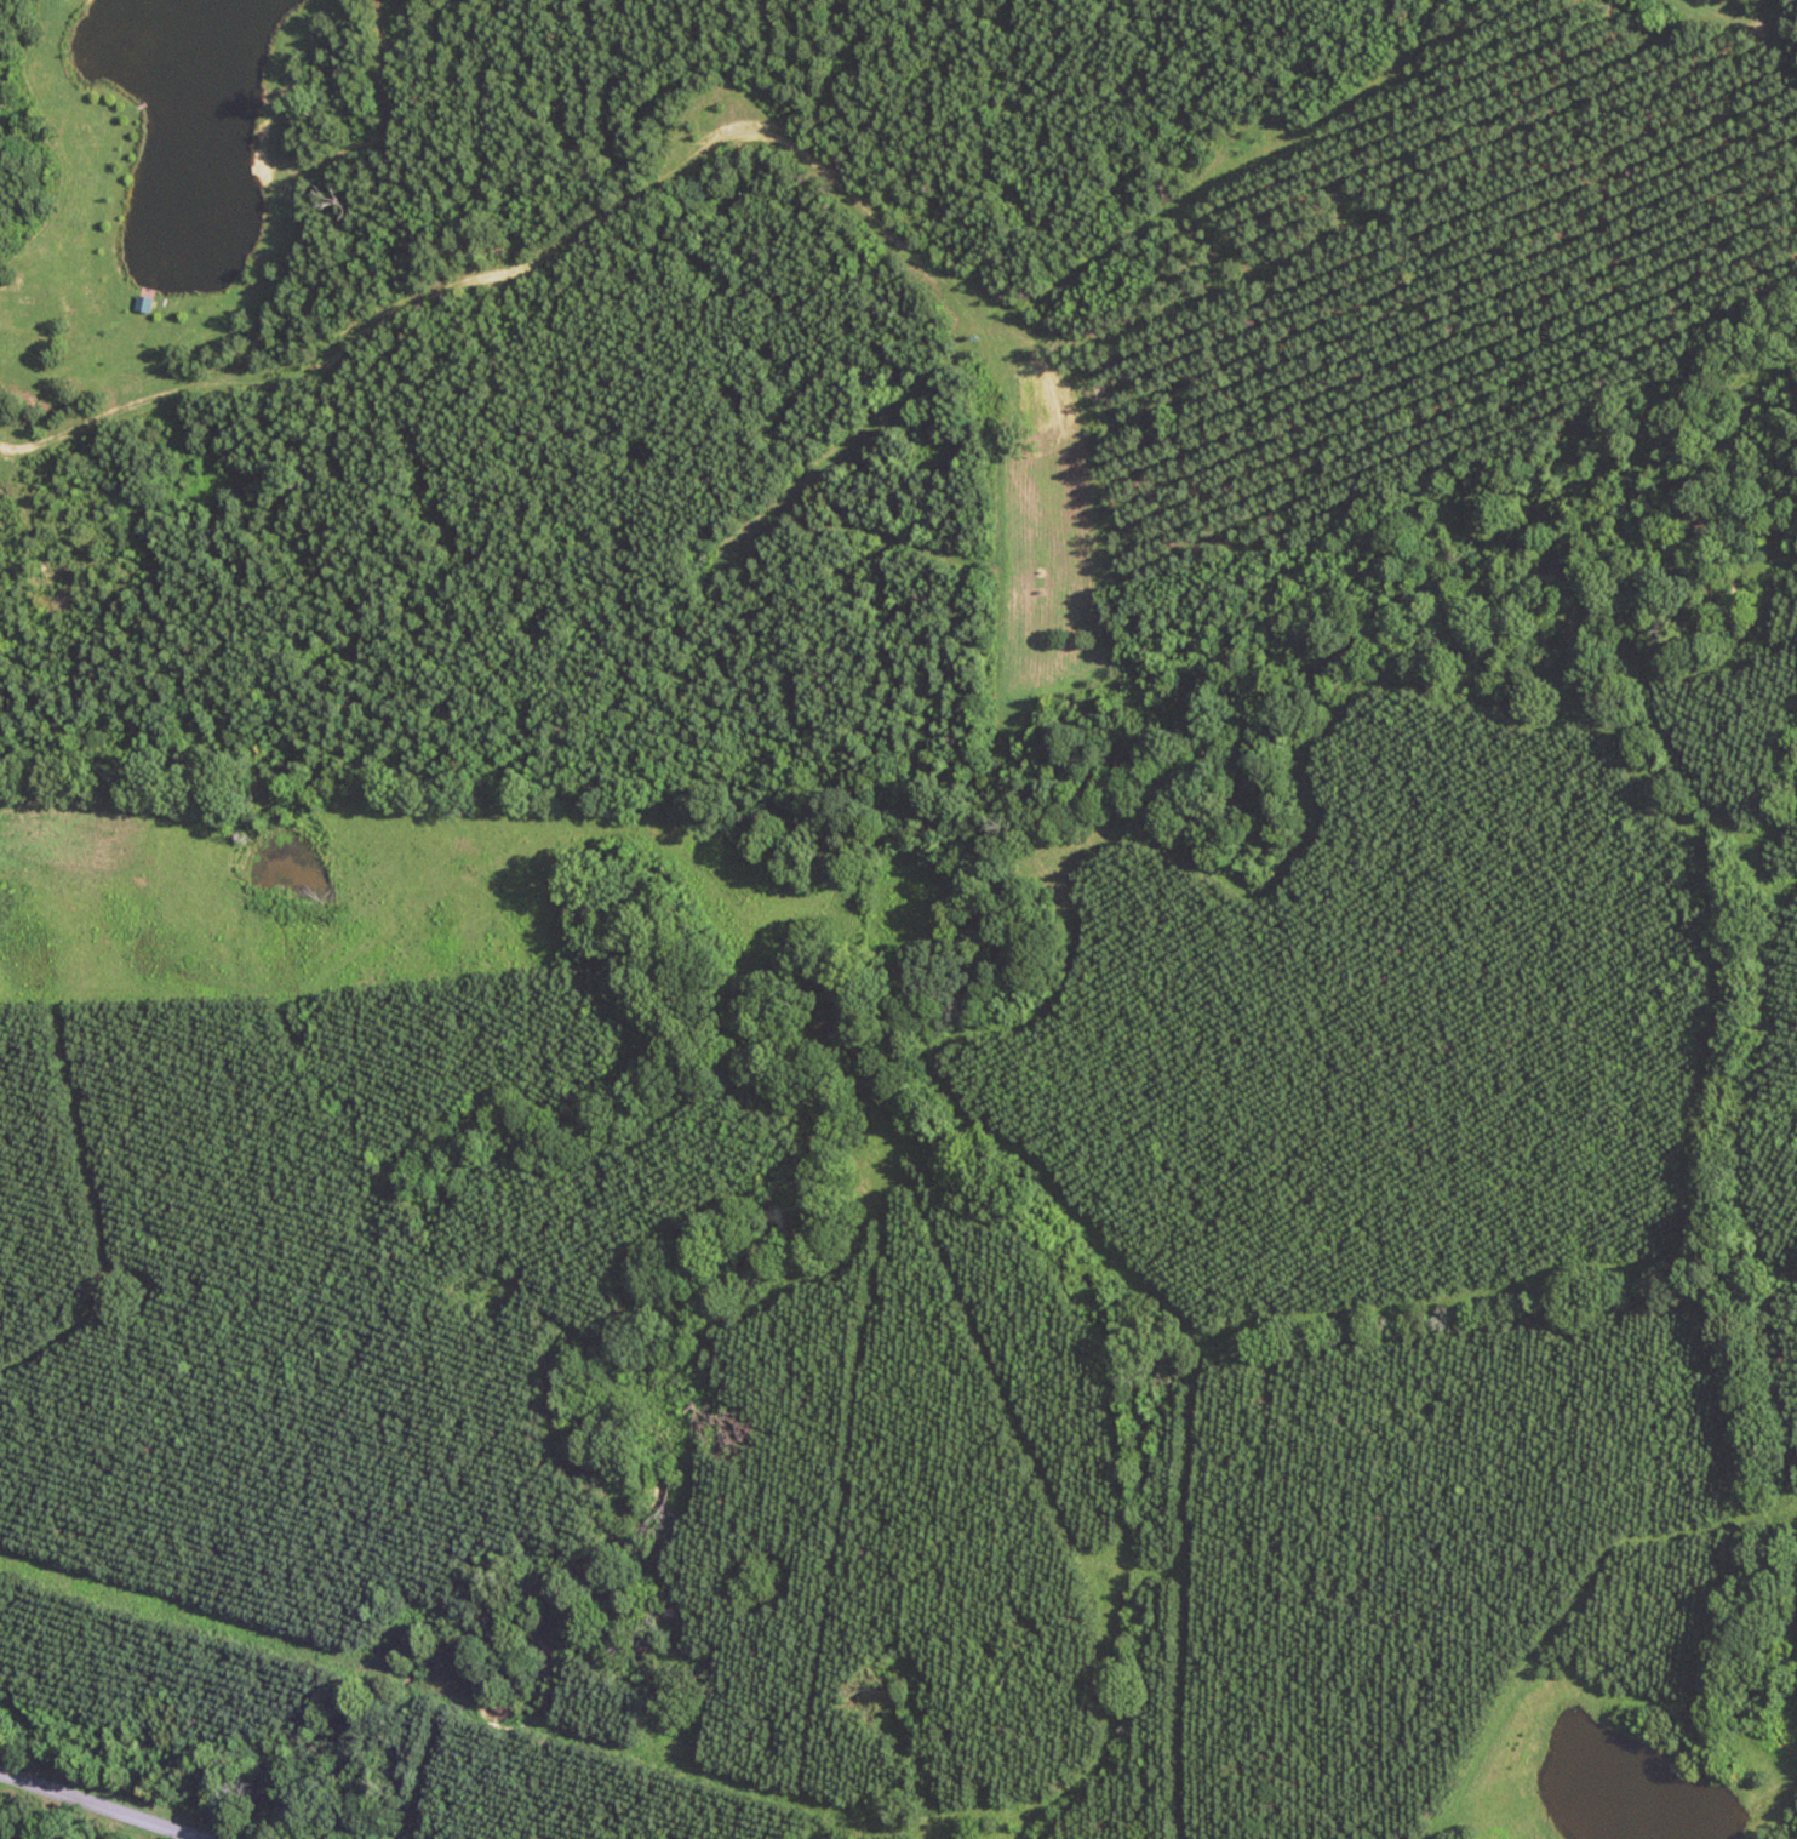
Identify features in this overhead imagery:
road: (102, 1805)

